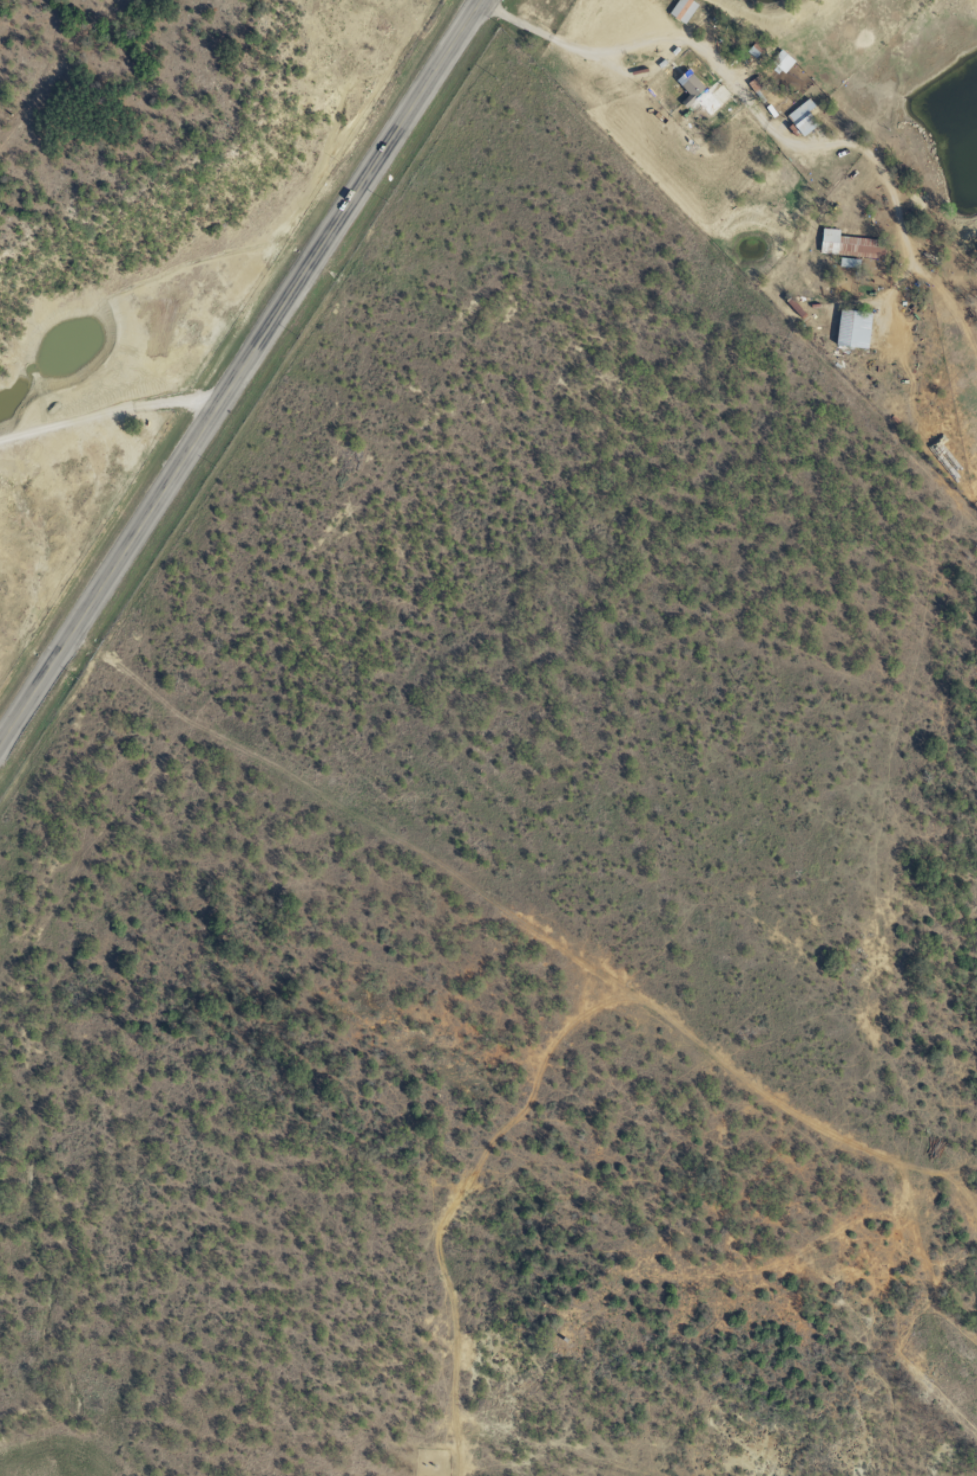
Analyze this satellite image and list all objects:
road: (345, 79)
building: (703, 92)
building: (802, 116)
building: (849, 246)
building: (853, 328)
road: (238, 370)

